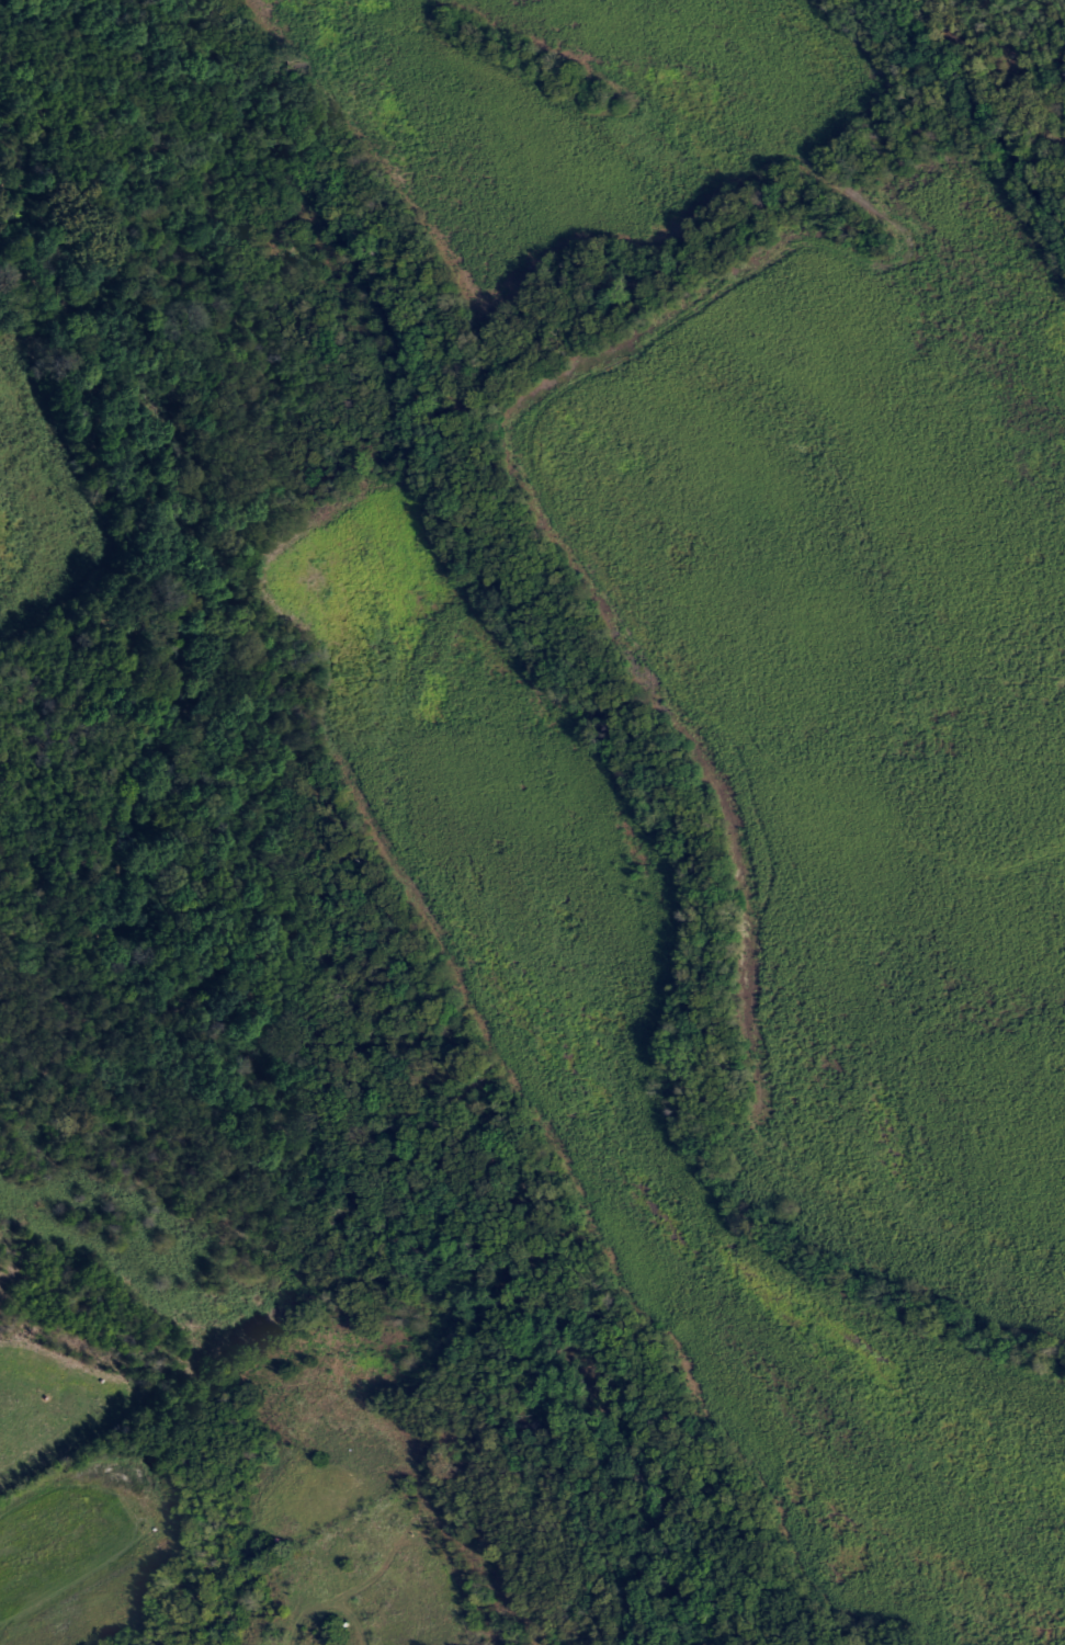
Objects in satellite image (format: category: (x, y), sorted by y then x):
road: (262, 1624)

